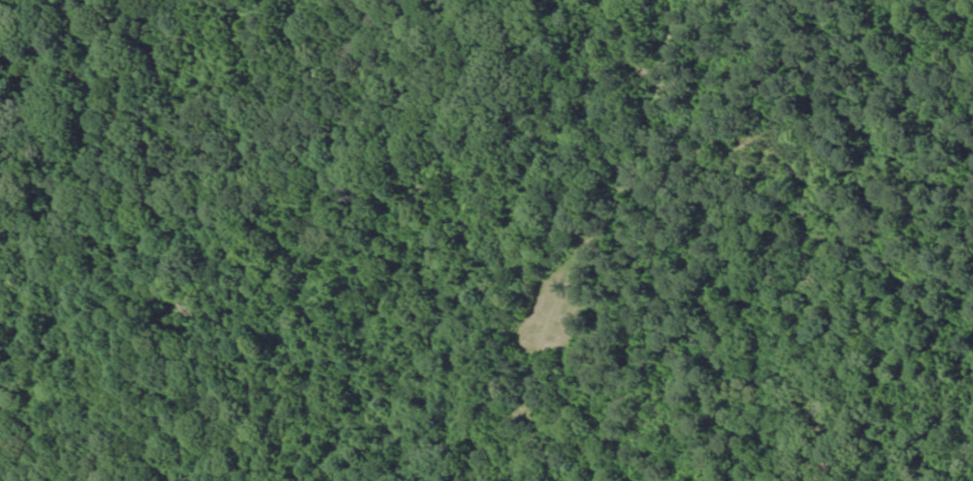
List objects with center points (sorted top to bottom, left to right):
road: (546, 240)

